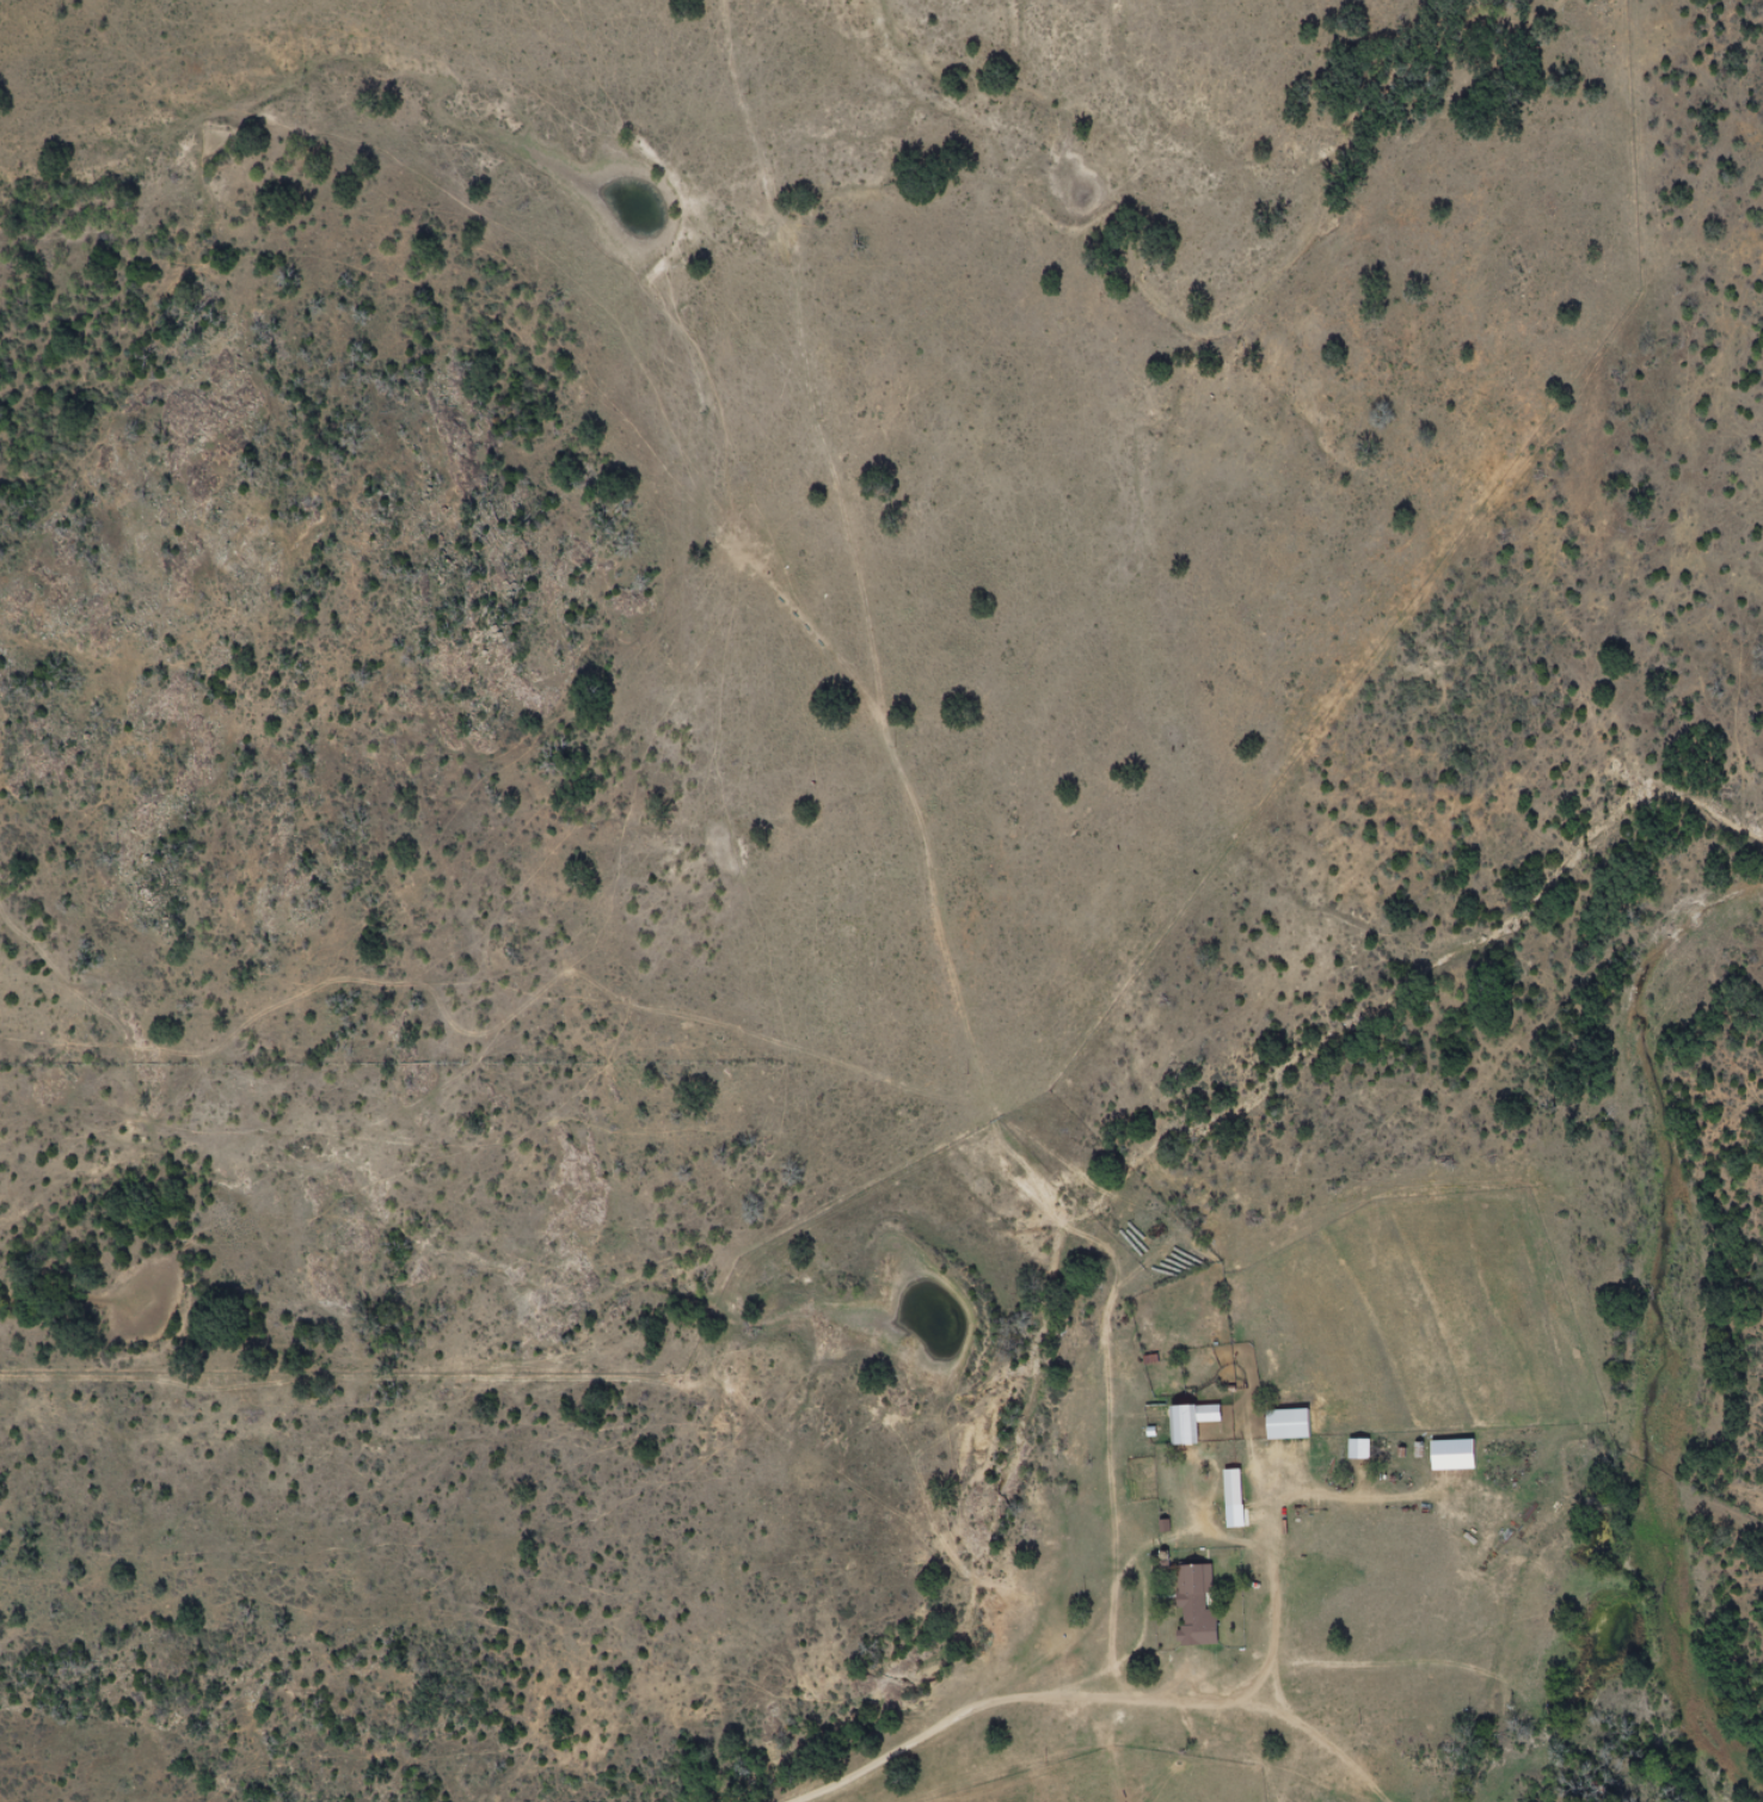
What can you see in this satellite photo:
building: (1288, 1423)
building: (1184, 1424)
building: (1359, 1447)
building: (1233, 1487)
building: (1196, 1605)
road: (1112, 1741)

